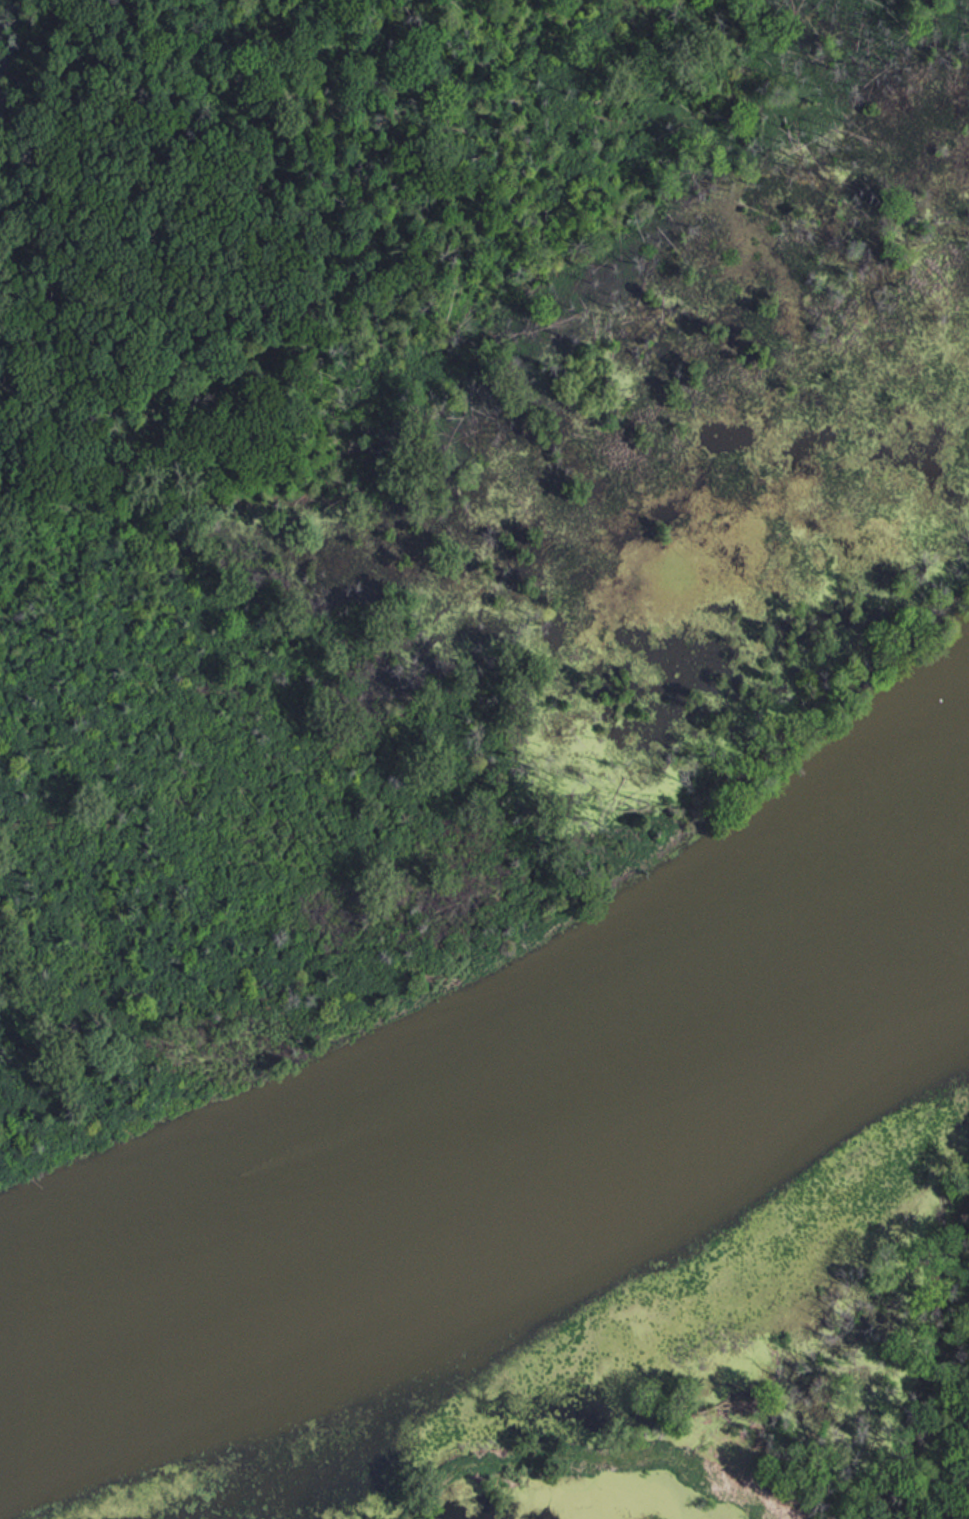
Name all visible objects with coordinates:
river: (508, 1163)
road: (590, 1473)

